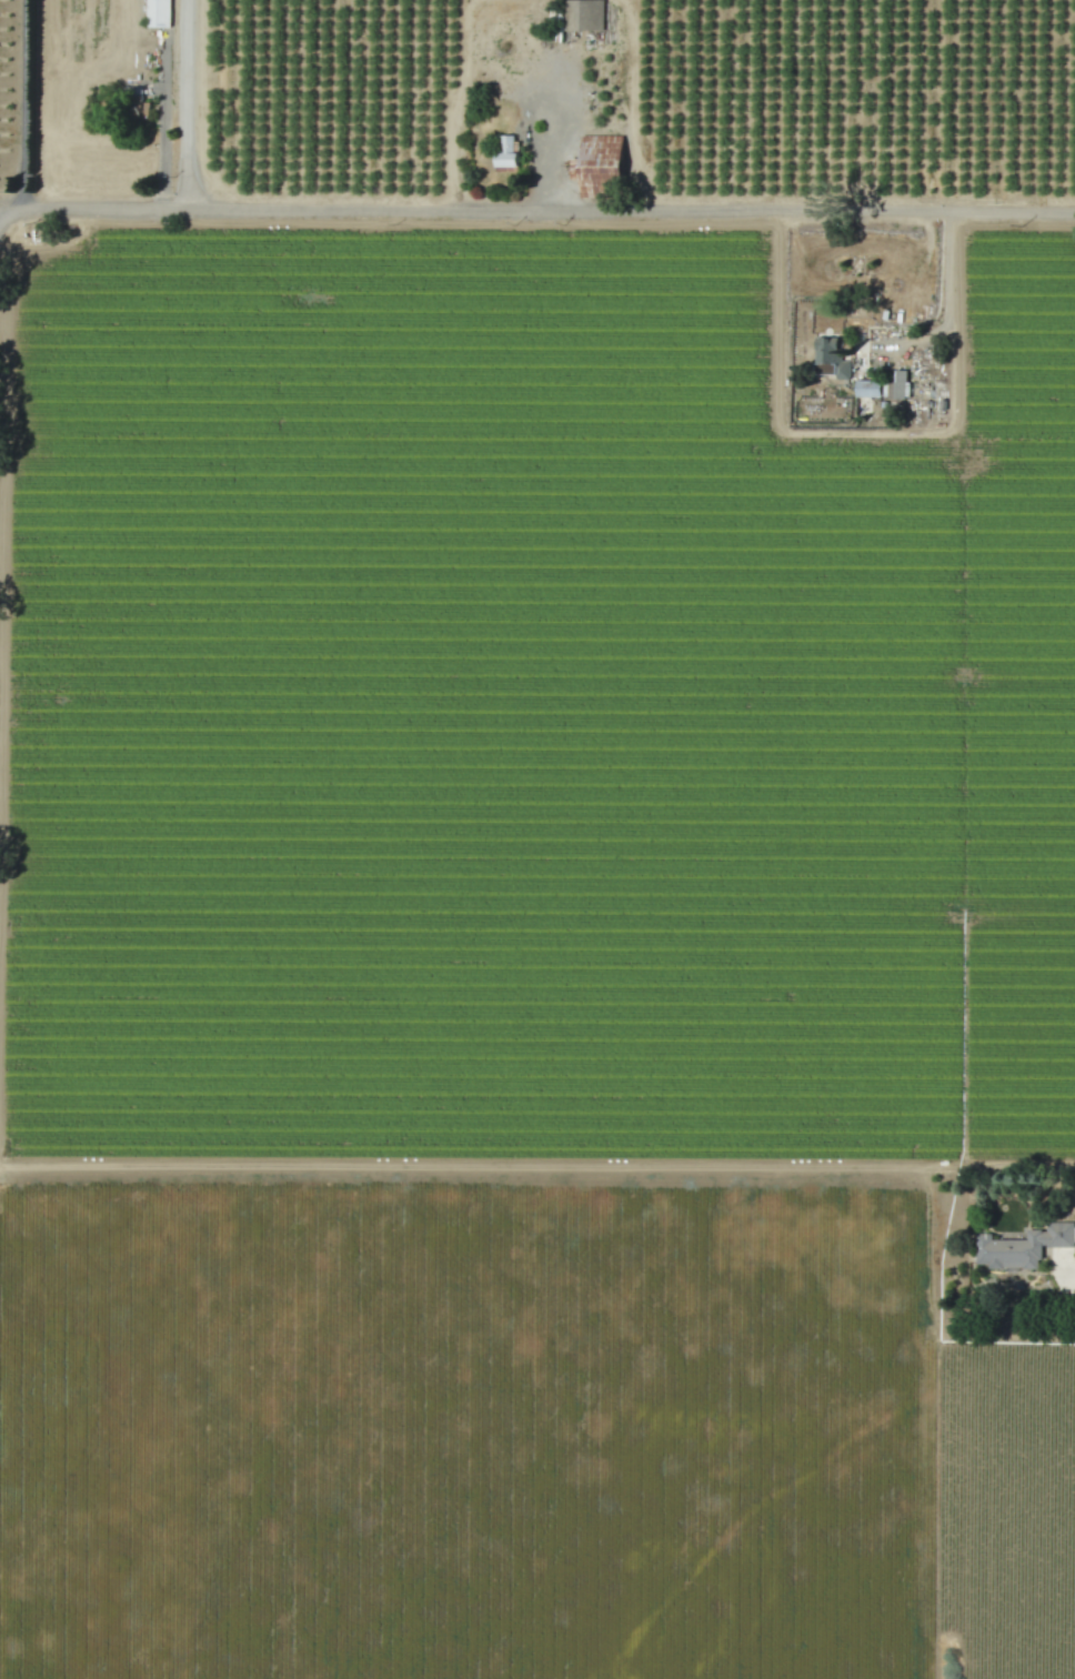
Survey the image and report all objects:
building: (158, 13)
building: (583, 16)
road: (187, 104)
road: (28, 107)
building: (141, 108)
road: (163, 127)
building: (505, 153)
building: (600, 161)
road: (536, 208)
road: (947, 292)
building: (831, 356)
building: (896, 386)
building: (867, 389)
building: (1023, 1247)

